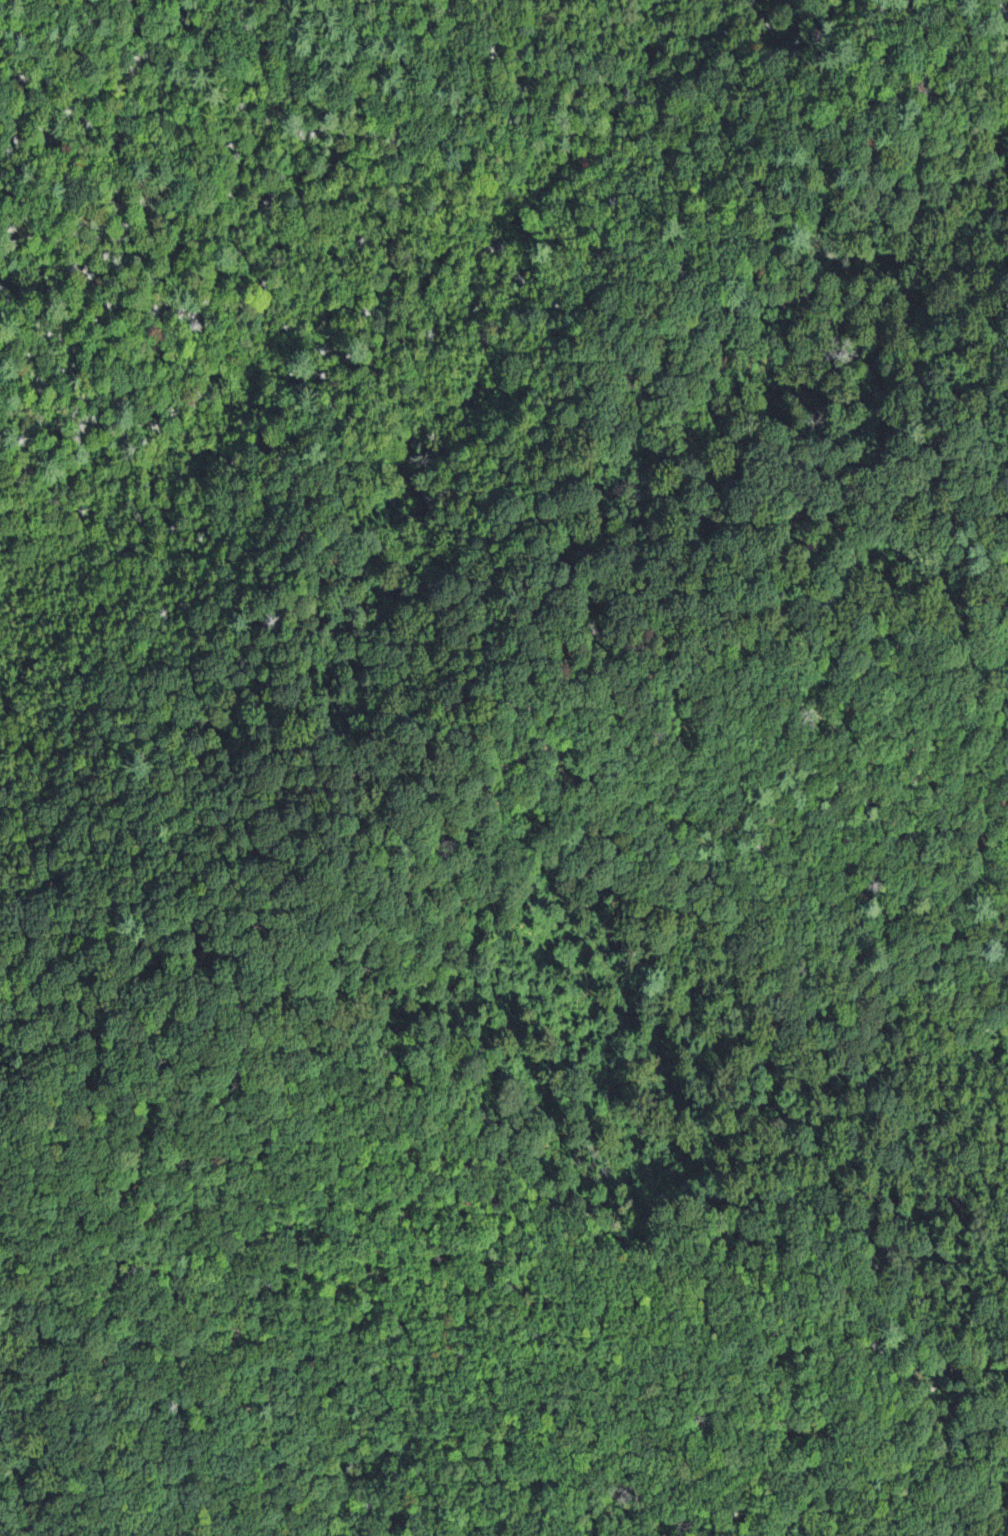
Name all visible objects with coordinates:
road: (884, 9)

